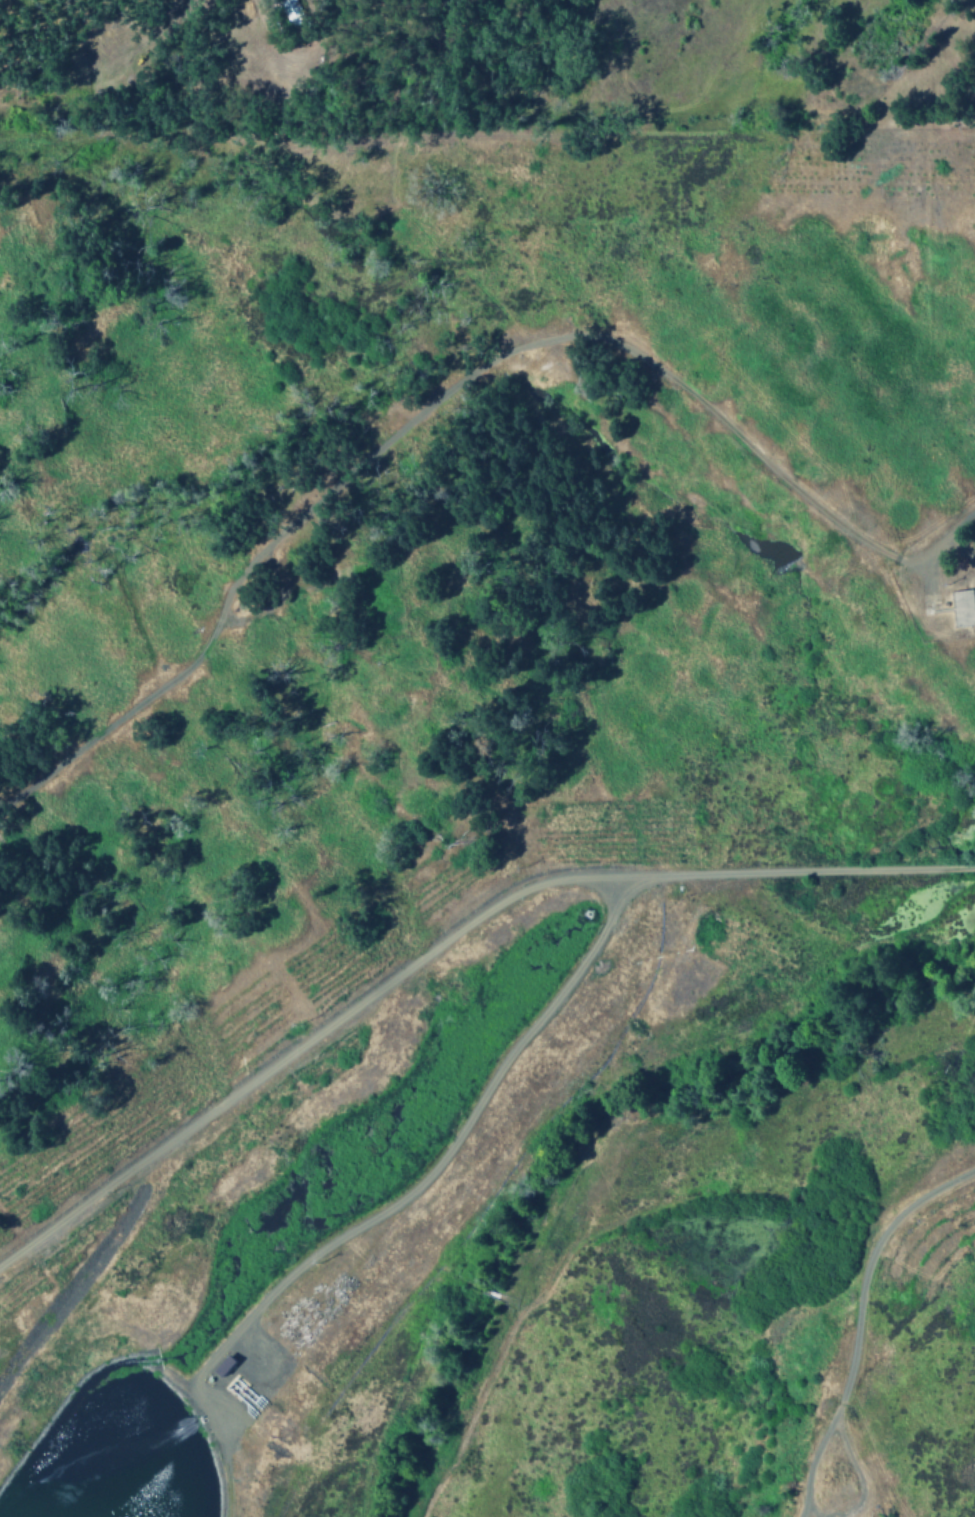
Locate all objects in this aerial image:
road: (631, 352)
building: (961, 607)
road: (240, 622)
road: (126, 715)
road: (444, 944)
road: (443, 1153)
road: (867, 1270)
road: (811, 1472)
road: (855, 1473)
road: (805, 1510)

